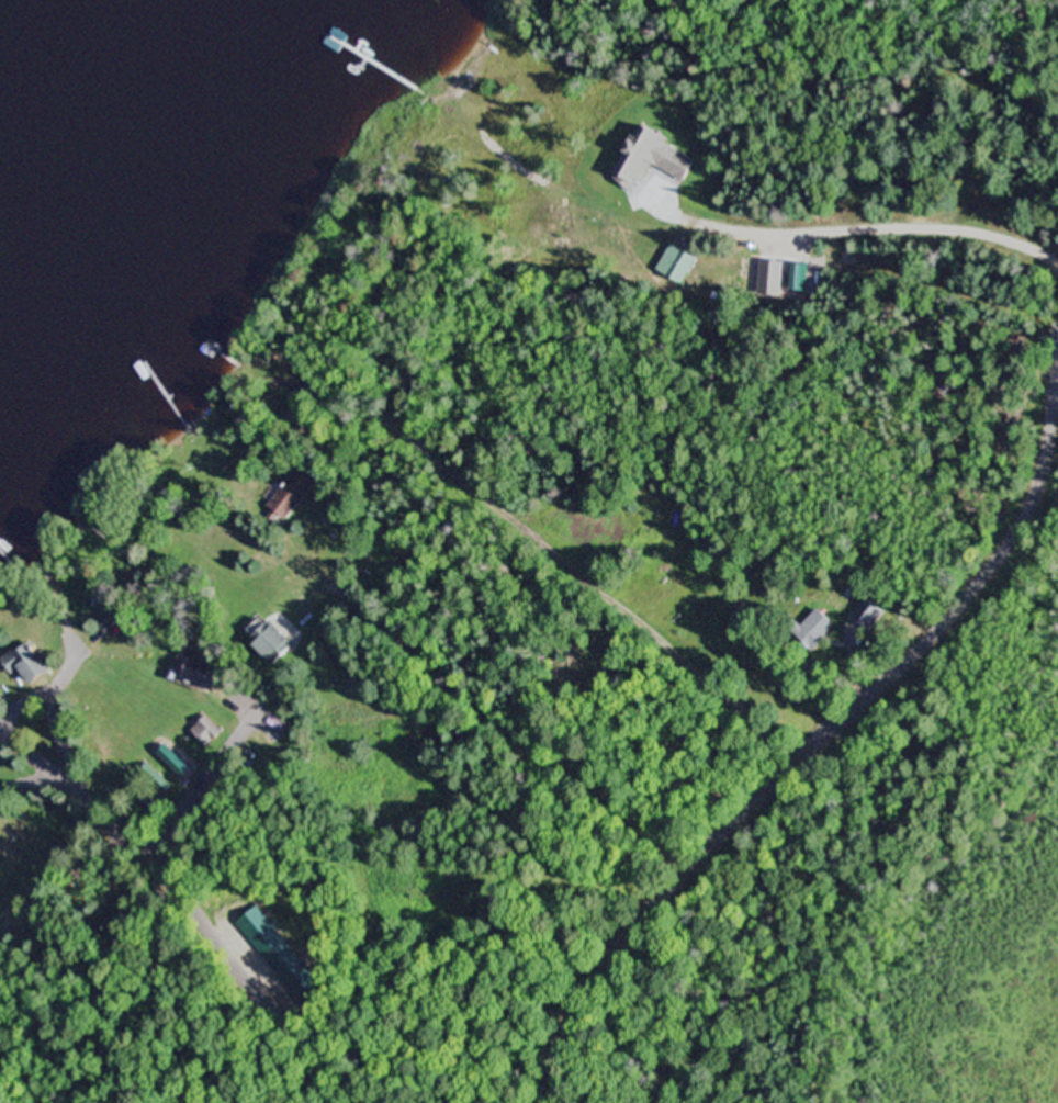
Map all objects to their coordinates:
building: (497, 248)
building: (676, 265)
building: (100, 275)
building: (295, 415)
building: (294, 493)
building: (858, 598)
building: (110, 612)
building: (815, 629)
building: (275, 640)
road: (520, 656)
building: (31, 660)
building: (206, 671)
building: (0, 698)
building: (210, 730)
road: (815, 738)
building: (177, 765)
building: (159, 783)
building: (142, 800)
building: (125, 818)
building: (85, 864)
road: (199, 924)
building: (121, 934)
building: (20, 955)
building: (41, 960)
building: (3, 961)
building: (34, 981)

